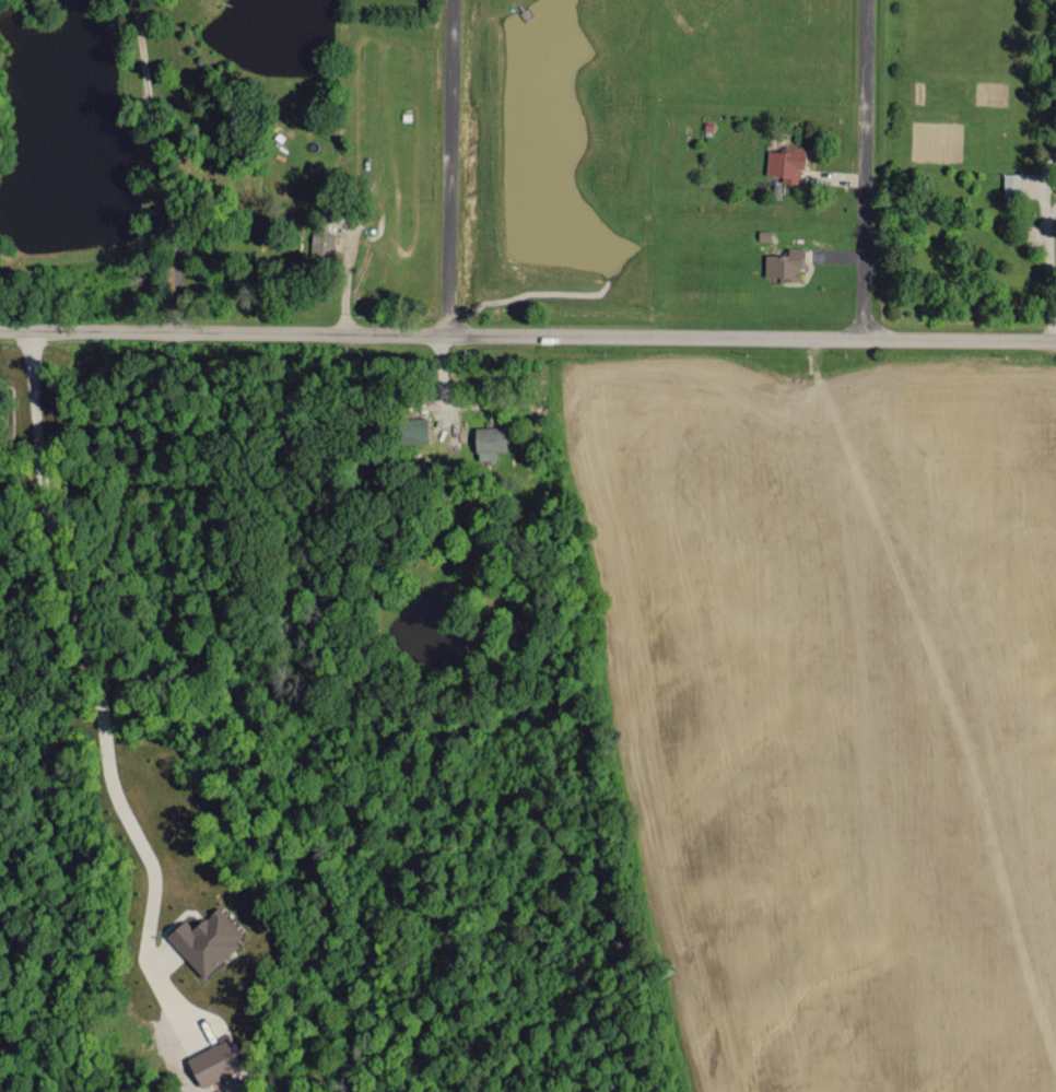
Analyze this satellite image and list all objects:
building: (786, 163)
road: (162, 164)
road: (450, 166)
road: (865, 168)
road: (1042, 180)
building: (1011, 184)
road: (1052, 208)
building: (321, 243)
building: (784, 265)
road: (1051, 277)
road: (527, 334)
building: (410, 430)
building: (489, 441)
road: (89, 654)
building: (204, 939)
building: (213, 1060)

